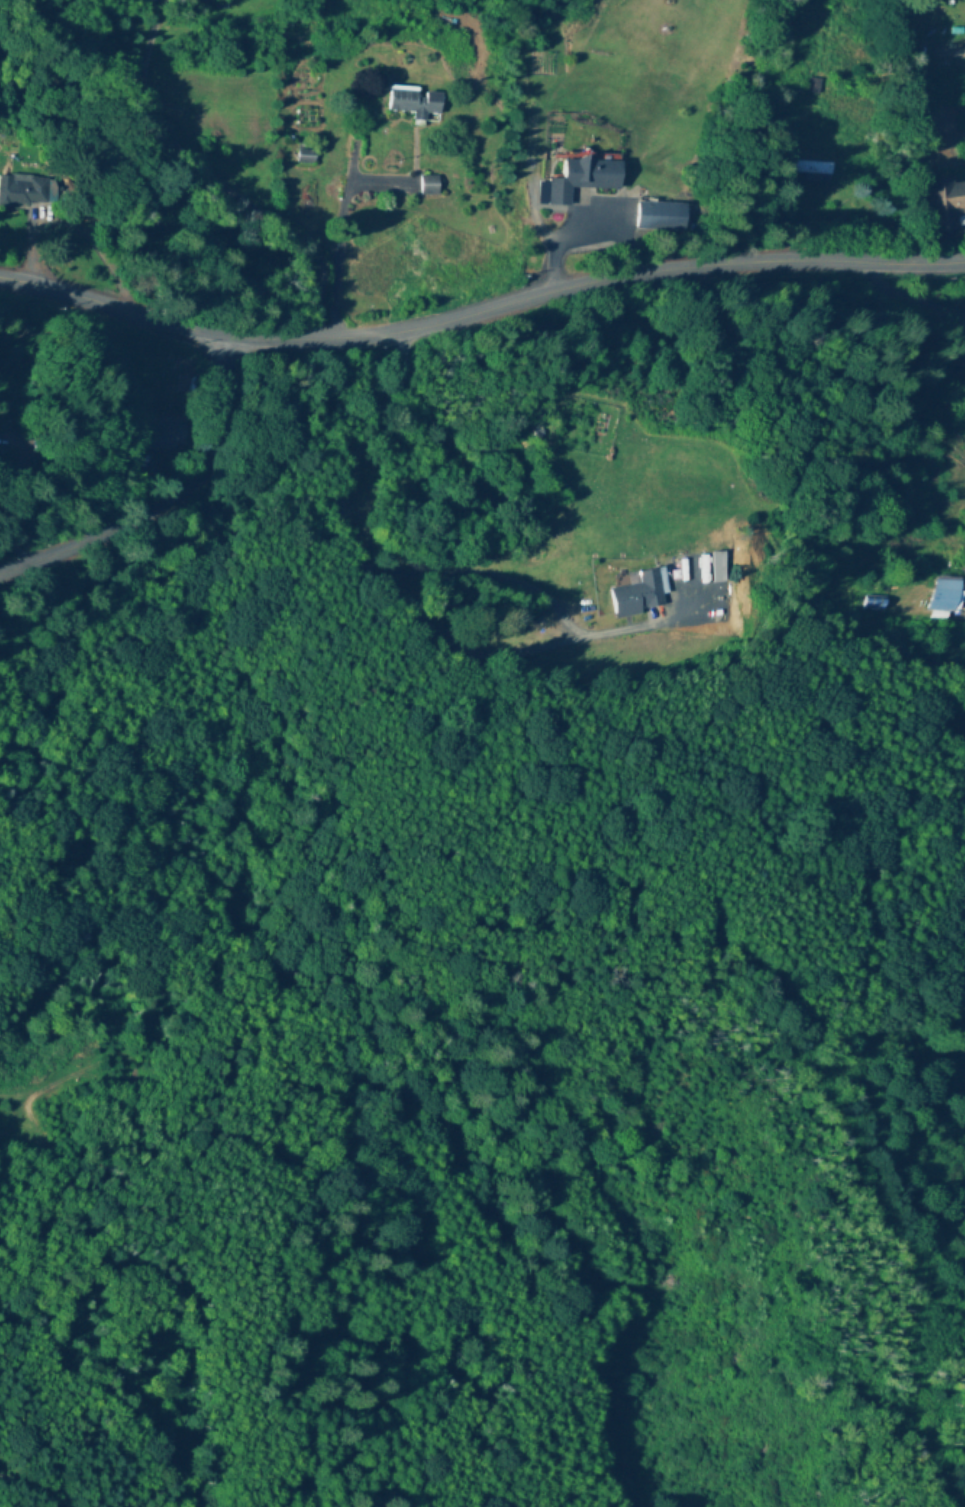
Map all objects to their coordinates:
building: (956, 30)
building: (810, 83)
building: (413, 102)
building: (806, 167)
building: (580, 179)
building: (425, 185)
building: (21, 190)
building: (942, 203)
building: (657, 216)
road: (184, 219)
road: (906, 296)
road: (479, 306)
building: (182, 435)
building: (18, 443)
road: (171, 499)
road: (377, 571)
building: (951, 594)
building: (635, 595)

